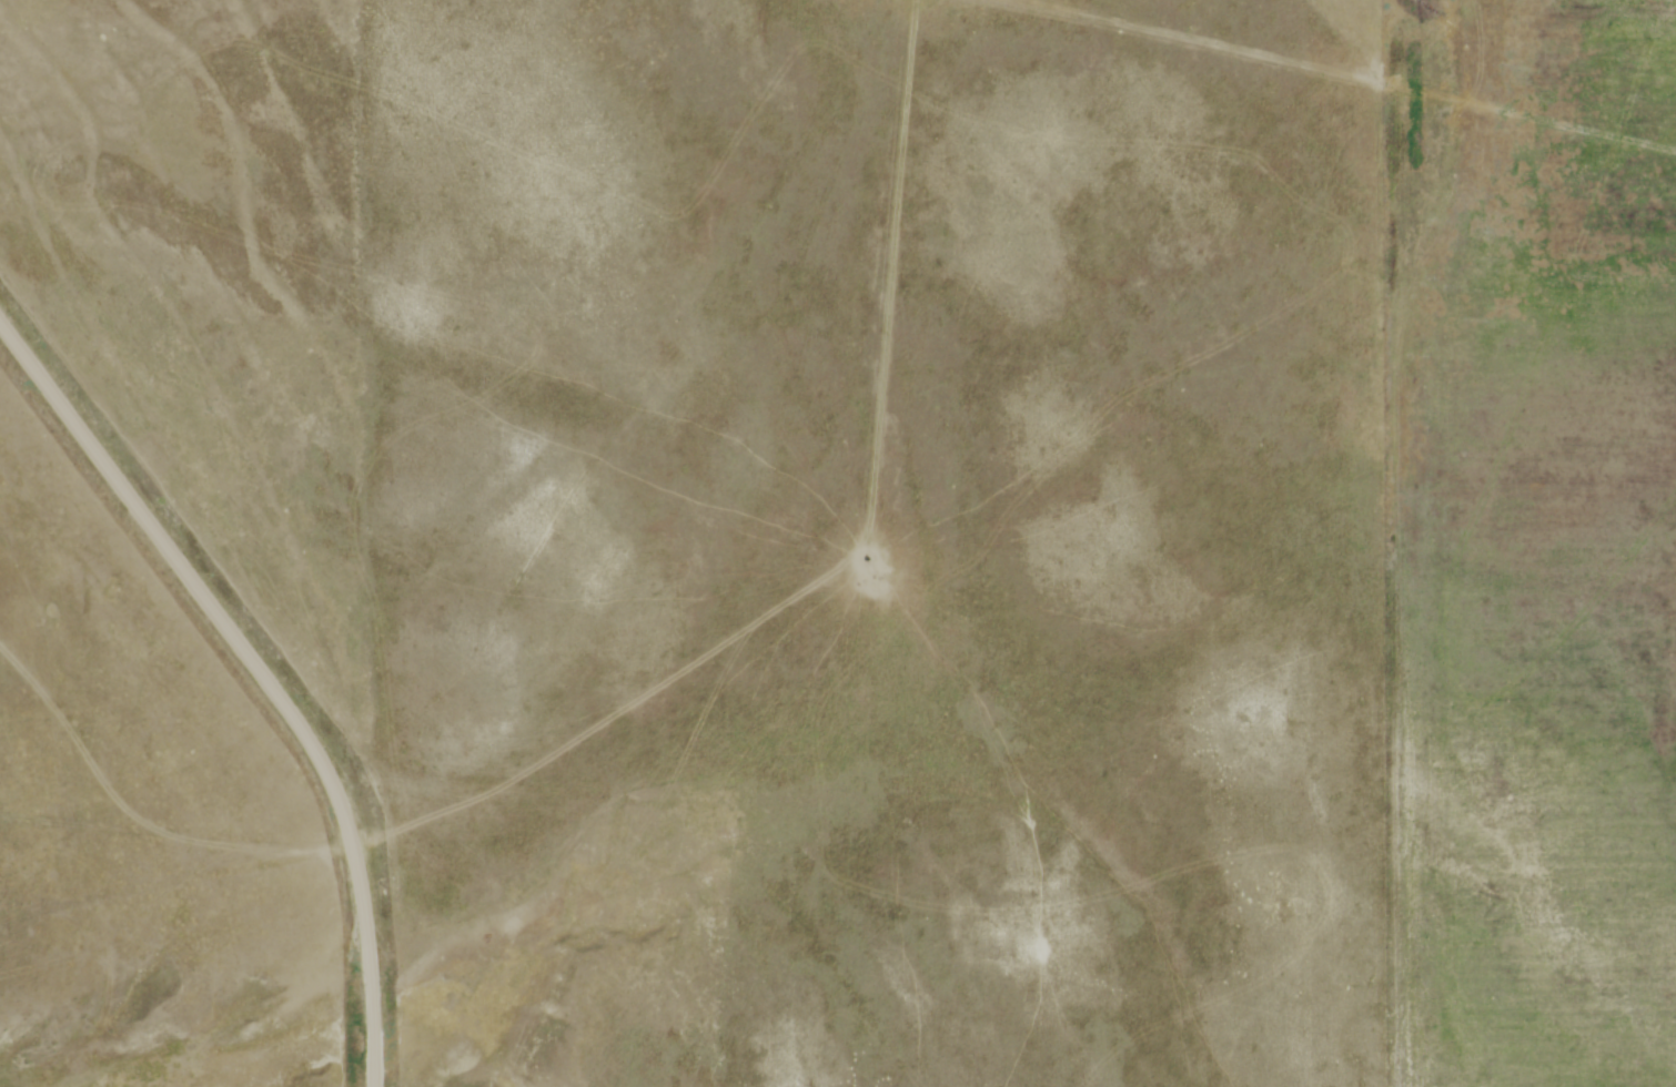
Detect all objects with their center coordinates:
road: (265, 670)

